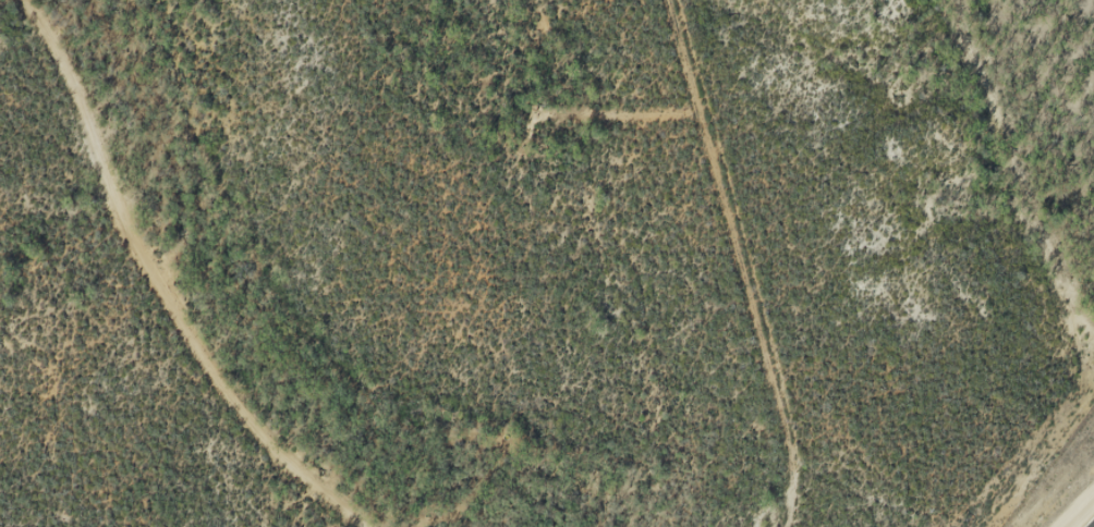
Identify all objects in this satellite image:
road: (1091, 524)

